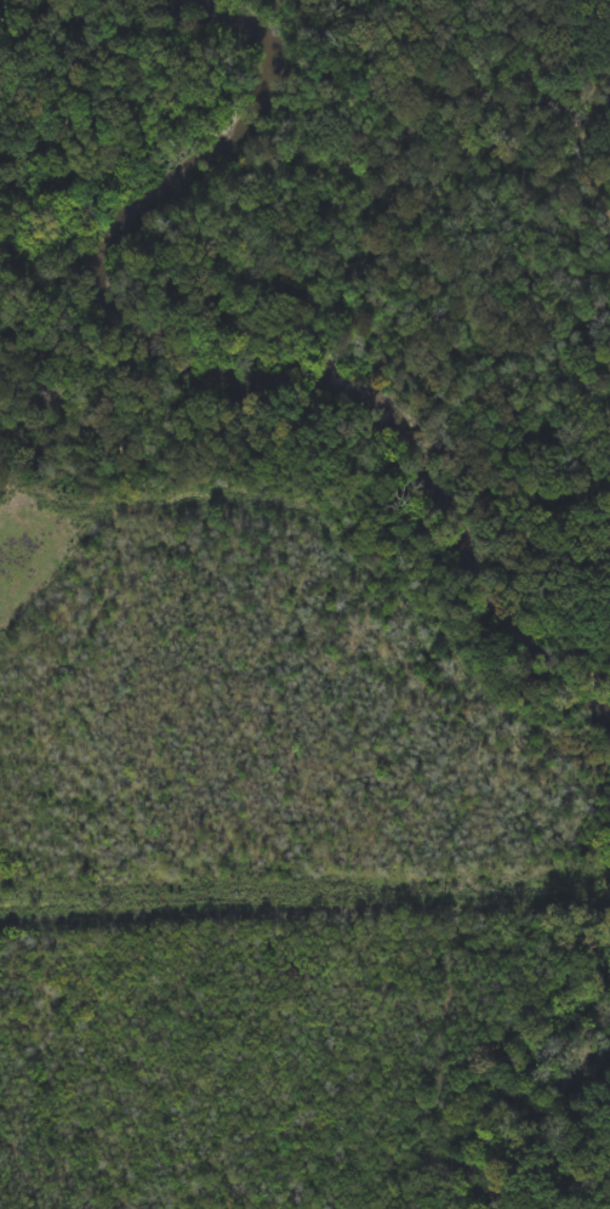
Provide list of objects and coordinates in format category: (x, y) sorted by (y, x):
river: (206, 378)
road: (304, 901)
river: (546, 1139)

